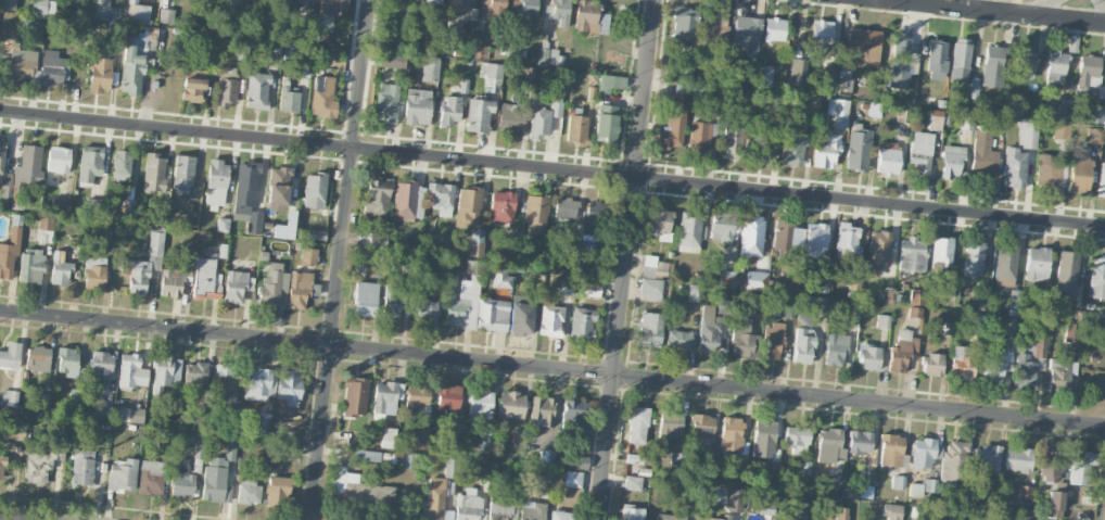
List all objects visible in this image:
building: (303, 0)
building: (8, 4)
building: (430, 4)
building: (331, 7)
building: (524, 7)
road: (1102, 7)
road: (1038, 8)
building: (103, 9)
building: (138, 11)
building: (558, 11)
road: (991, 12)
building: (459, 13)
building: (166, 15)
building: (589, 18)
building: (262, 23)
building: (684, 24)
building: (714, 27)
building: (774, 29)
building: (747, 34)
building: (821, 35)
building: (863, 48)
building: (289, 51)
building: (481, 52)
building: (549, 58)
building: (304, 59)
building: (392, 60)
building: (936, 60)
building: (960, 61)
building: (902, 62)
building: (132, 63)
building: (1024, 63)
building: (993, 66)
building: (52, 68)
building: (430, 68)
building: (1055, 68)
building: (21, 69)
building: (797, 73)
building: (1087, 73)
building: (100, 74)
building: (829, 75)
building: (492, 77)
building: (765, 81)
building: (610, 83)
building: (843, 84)
building: (974, 88)
building: (192, 89)
building: (256, 91)
building: (226, 92)
building: (288, 97)
building: (322, 97)
building: (386, 102)
building: (417, 106)
building: (449, 110)
building: (838, 112)
building: (544, 114)
building: (902, 114)
building: (479, 115)
building: (1095, 116)
building: (510, 117)
building: (935, 119)
building: (966, 122)
building: (606, 123)
building: (673, 123)
building: (1002, 123)
building: (576, 128)
building: (1027, 132)
building: (1095, 135)
building: (699, 137)
building: (731, 140)
building: (762, 143)
building: (793, 145)
building: (858, 148)
building: (826, 150)
building: (920, 152)
building: (983, 154)
building: (1, 156)
building: (887, 157)
building: (58, 160)
building: (951, 161)
building: (90, 163)
building: (120, 164)
building: (28, 165)
building: (1014, 168)
road: (551, 170)
building: (182, 172)
building: (1047, 172)
building: (154, 173)
building: (1079, 173)
building: (1101, 180)
building: (216, 182)
building: (277, 189)
building: (314, 190)
building: (377, 195)
building: (246, 196)
building: (441, 198)
building: (408, 200)
building: (60, 204)
building: (94, 204)
building: (127, 205)
building: (468, 206)
building: (501, 206)
building: (566, 208)
building: (196, 210)
building: (162, 211)
building: (535, 214)
building: (659, 224)
building: (223, 225)
building: (285, 226)
building: (722, 227)
building: (689, 231)
building: (45, 234)
building: (317, 234)
building: (784, 234)
building: (751, 236)
building: (815, 239)
building: (846, 241)
building: (572, 248)
building: (879, 249)
building: (942, 251)
building: (911, 255)
building: (307, 256)
road: (340, 259)
road: (626, 259)
building: (974, 259)
building: (1005, 261)
building: (1037, 264)
building: (5, 265)
building: (30, 265)
building: (143, 265)
building: (653, 267)
building: (60, 272)
building: (94, 272)
building: (856, 272)
building: (1066, 274)
building: (1096, 276)
building: (206, 277)
building: (499, 278)
building: (727, 279)
building: (757, 280)
building: (174, 281)
building: (237, 286)
building: (274, 287)
building: (823, 287)
building: (301, 289)
building: (590, 289)
building: (650, 289)
building: (694, 292)
building: (916, 295)
building: (366, 299)
building: (392, 301)
building: (1014, 302)
building: (462, 304)
building: (818, 306)
building: (426, 310)
building: (787, 310)
building: (914, 312)
building: (492, 315)
building: (520, 318)
building: (550, 320)
building: (882, 320)
building: (582, 324)
building: (650, 329)
building: (709, 329)
building: (1072, 332)
building: (744, 339)
building: (678, 340)
building: (772, 341)
building: (803, 345)
building: (1038, 346)
building: (835, 350)
building: (902, 351)
building: (10, 355)
building: (868, 357)
building: (37, 358)
building: (68, 363)
building: (962, 363)
building: (100, 365)
building: (932, 365)
building: (993, 367)
road: (551, 369)
building: (176, 370)
building: (131, 371)
building: (1025, 371)
building: (162, 372)
building: (195, 372)
building: (1060, 373)
building: (227, 382)
building: (261, 383)
building: (289, 386)
building: (75, 396)
building: (355, 396)
building: (9, 397)
building: (448, 397)
building: (385, 398)
building: (416, 398)
building: (42, 401)
building: (480, 405)
building: (510, 405)
building: (542, 408)
building: (102, 410)
building: (128, 414)
building: (290, 415)
building: (572, 415)
building: (637, 424)
building: (701, 424)
building: (668, 427)
building: (12, 432)
building: (731, 433)
building: (388, 437)
building: (420, 437)
building: (763, 439)
building: (796, 440)
building: (860, 442)
building: (829, 445)
building: (890, 449)
building: (925, 453)
building: (987, 456)
building: (380, 457)
building: (546, 457)
building: (45, 458)
building: (1017, 459)
building: (953, 460)
building: (577, 461)
building: (1051, 465)
building: (1, 466)
building: (82, 467)
building: (803, 468)
building: (1080, 468)
building: (122, 474)
building: (151, 478)
building: (181, 478)
building: (572, 479)
building: (633, 482)
building: (897, 482)
building: (277, 489)
building: (357, 489)
building: (993, 489)
building: (249, 491)
building: (440, 491)
building: (865, 491)
building: (720, 494)
building: (735, 499)
building: (1054, 504)
building: (468, 505)
building: (766, 505)
building: (501, 508)
building: (701, 509)
building: (532, 510)
building: (798, 510)
building: (891, 511)
building: (630, 513)
building: (841, 513)
building: (447, 515)
building: (559, 515)
road: (22, 517)
building: (670, 517)
building: (717, 519)
building: (941, 519)

